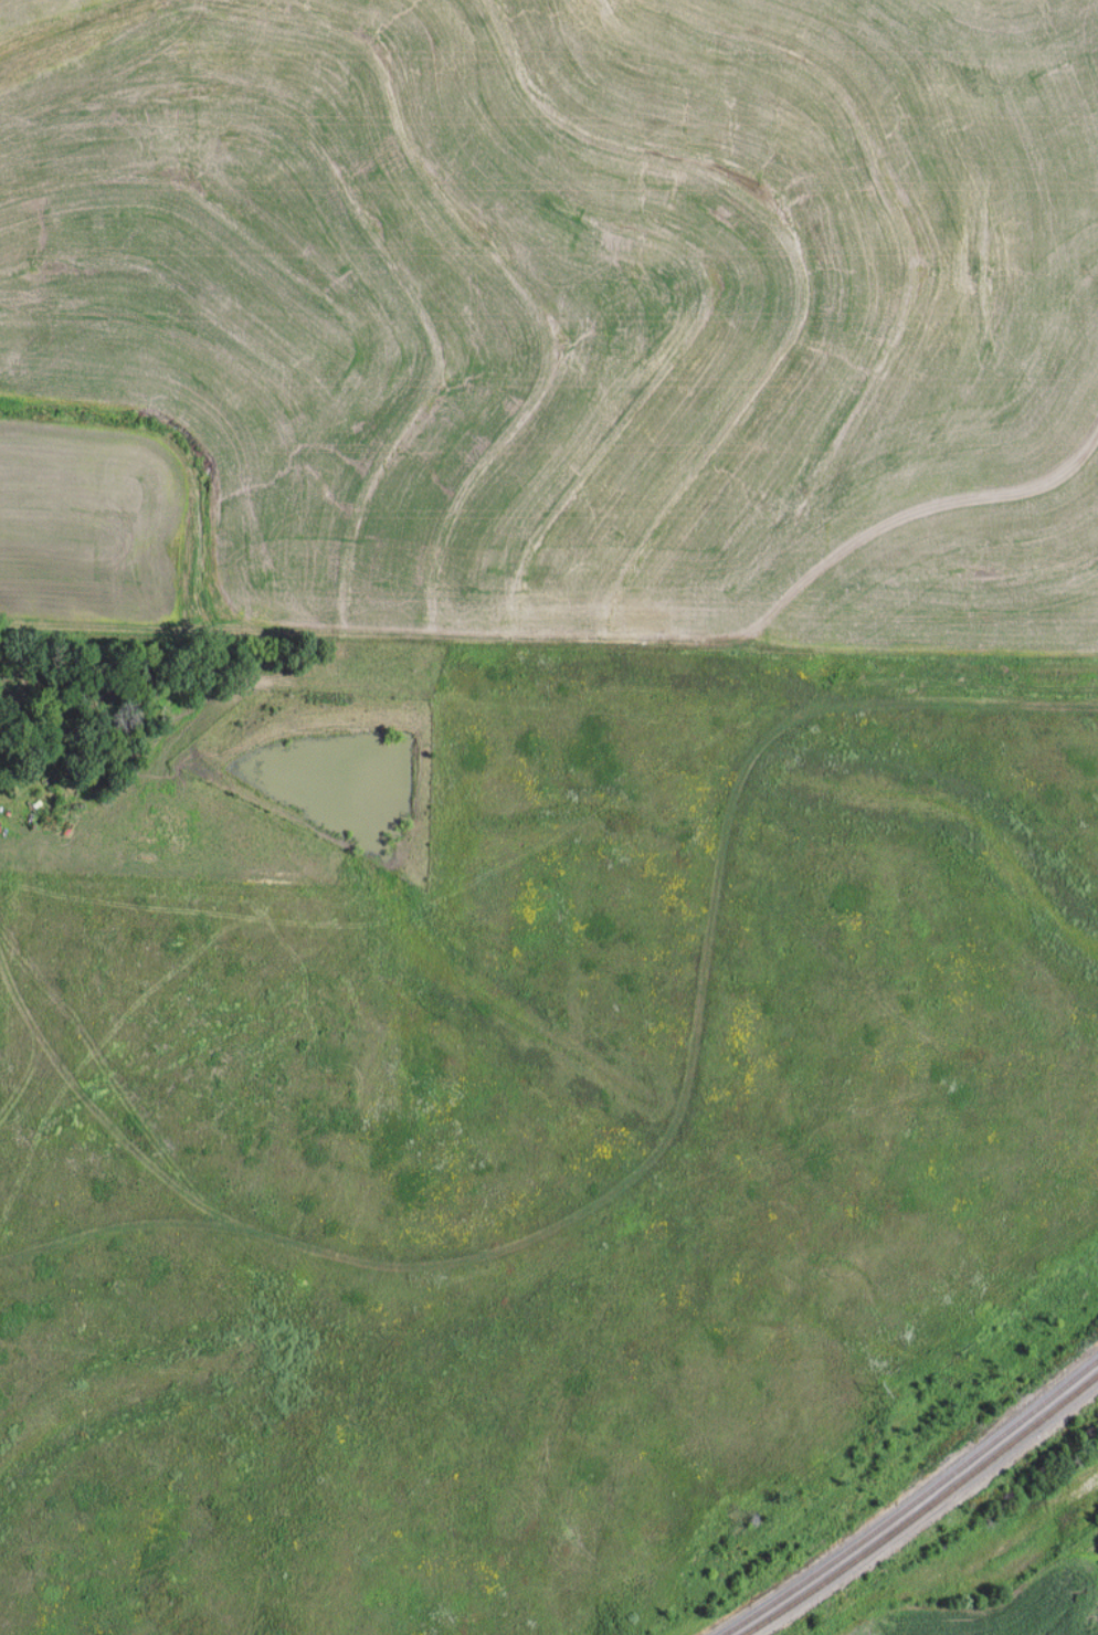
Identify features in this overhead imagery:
road: (673, 1126)
railway: (1032, 1406)
railway: (1035, 1420)
railway: (844, 1549)
railway: (858, 1554)

